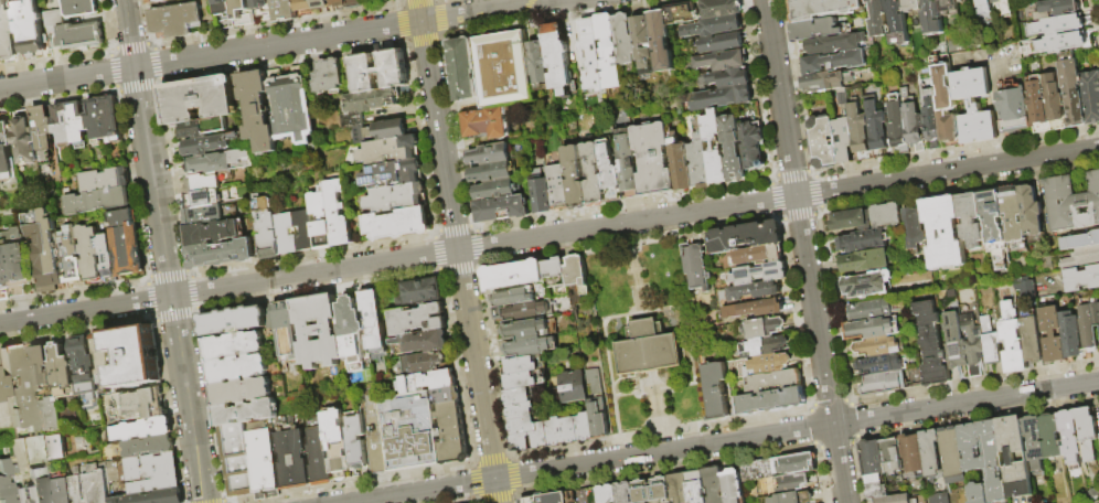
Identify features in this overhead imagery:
building: (68, 0)
building: (149, 0)
building: (160, 1)
building: (345, 3)
building: (322, 4)
building: (305, 6)
building: (913, 6)
building: (1003, 6)
building: (949, 7)
building: (83, 8)
building: (985, 8)
building: (722, 9)
building: (823, 9)
building: (1057, 9)
building: (265, 10)
building: (286, 11)
road: (523, 11)
building: (245, 12)
building: (225, 14)
building: (682, 14)
building: (879, 18)
building: (933, 18)
building: (178, 20)
building: (898, 22)
building: (31, 26)
building: (1057, 26)
building: (714, 28)
building: (815, 30)
building: (8, 33)
building: (73, 33)
building: (626, 40)
building: (643, 42)
building: (662, 42)
road: (277, 44)
building: (722, 44)
building: (1060, 44)
building: (836, 45)
building: (1, 53)
building: (610, 53)
building: (593, 58)
building: (559, 61)
building: (723, 62)
building: (834, 64)
building: (541, 65)
road: (999, 65)
building: (465, 69)
building: (380, 72)
building: (330, 76)
building: (726, 79)
building: (501, 84)
building: (824, 84)
building: (943, 86)
building: (1074, 93)
building: (1091, 97)
building: (1054, 98)
building: (721, 99)
building: (200, 100)
building: (1037, 100)
building: (292, 104)
building: (366, 107)
building: (974, 107)
building: (259, 111)
building: (1014, 111)
road: (997, 114)
building: (97, 120)
building: (113, 120)
building: (932, 120)
building: (913, 121)
building: (79, 125)
building: (898, 125)
building: (64, 127)
building: (877, 127)
building: (951, 128)
building: (205, 129)
building: (860, 130)
building: (380, 131)
building: (45, 133)
building: (26, 140)
building: (844, 140)
building: (823, 143)
building: (213, 146)
building: (753, 146)
building: (7, 150)
building: (715, 150)
building: (734, 150)
building: (388, 151)
building: (490, 154)
building: (701, 158)
building: (654, 160)
building: (223, 163)
building: (628, 165)
building: (682, 167)
building: (492, 173)
building: (392, 175)
building: (610, 175)
building: (594, 176)
building: (576, 180)
building: (107, 181)
building: (203, 184)
building: (559, 188)
building: (495, 190)
building: (542, 195)
building: (396, 199)
building: (202, 200)
building: (102, 202)
building: (1071, 204)
building: (503, 210)
building: (1031, 212)
building: (338, 215)
building: (202, 216)
building: (886, 216)
building: (1014, 218)
building: (971, 220)
building: (322, 221)
building: (851, 221)
building: (398, 225)
building: (994, 226)
building: (268, 228)
building: (914, 228)
building: (214, 233)
building: (306, 233)
building: (943, 234)
building: (287, 235)
road: (548, 235)
building: (745, 237)
building: (864, 242)
building: (1080, 242)
building: (128, 245)
road: (458, 250)
road: (163, 251)
road: (804, 251)
building: (90, 253)
building: (49, 254)
building: (221, 255)
building: (758, 255)
building: (72, 257)
building: (1080, 259)
building: (865, 261)
building: (15, 264)
building: (0, 267)
building: (695, 267)
building: (758, 274)
building: (514, 275)
building: (0, 278)
building: (556, 278)
building: (576, 279)
building: (1080, 279)
building: (2, 285)
building: (867, 286)
building: (1023, 286)
building: (423, 291)
building: (754, 291)
building: (1, 297)
building: (511, 298)
road: (682, 306)
building: (754, 309)
building: (1098, 309)
building: (520, 311)
building: (868, 311)
building: (234, 320)
building: (374, 320)
building: (417, 320)
building: (286, 323)
building: (1089, 327)
building: (762, 328)
building: (871, 329)
building: (524, 330)
building: (318, 331)
building: (352, 334)
building: (1050, 334)
building: (1070, 335)
building: (1012, 339)
building: (1031, 341)
building: (422, 342)
building: (953, 343)
building: (990, 343)
building: (931, 345)
building: (972, 345)
building: (234, 346)
building: (531, 346)
building: (647, 346)
building: (762, 346)
building: (876, 347)
building: (136, 356)
building: (104, 362)
building: (424, 364)
building: (767, 364)
building: (526, 365)
building: (878, 365)
building: (43, 367)
building: (63, 367)
building: (86, 367)
building: (237, 368)
building: (527, 379)
building: (427, 382)
building: (772, 382)
building: (594, 384)
building: (881, 385)
building: (2, 388)
building: (573, 388)
building: (18, 389)
building: (715, 390)
building: (241, 392)
building: (448, 395)
building: (518, 396)
building: (771, 402)
building: (139, 406)
building: (521, 410)
building: (246, 413)
building: (51, 414)
building: (598, 418)
building: (522, 426)
building: (585, 427)
road: (617, 427)
building: (146, 429)
building: (373, 430)
building: (409, 431)
building: (562, 431)
building: (452, 434)
building: (1088, 434)
building: (1098, 434)
building: (541, 436)
building: (1052, 437)
building: (1070, 437)
building: (356, 441)
building: (522, 441)
road: (722, 442)
building: (337, 443)
building: (1035, 443)
building: (56, 448)
building: (972, 448)
building: (138, 449)
building: (318, 454)
building: (914, 454)
building: (932, 456)
building: (18, 457)
building: (894, 457)
building: (953, 458)
building: (292, 459)
building: (874, 459)
building: (1012, 459)
building: (236, 460)
building: (994, 461)
building: (263, 464)
building: (796, 464)
building: (149, 468)
building: (758, 471)
building: (875, 480)
building: (6, 483)
building: (789, 484)
building: (154, 485)
building: (716, 485)
building: (734, 485)
building: (41, 486)
building: (89, 486)
building: (697, 488)
building: (680, 489)
building: (61, 491)
building: (878, 491)
building: (654, 492)
building: (627, 493)
building: (980, 493)
building: (29, 494)
building: (609, 494)
building: (588, 496)
building: (156, 497)
building: (938, 497)
building: (552, 499)
building: (793, 499)
building: (897, 500)

